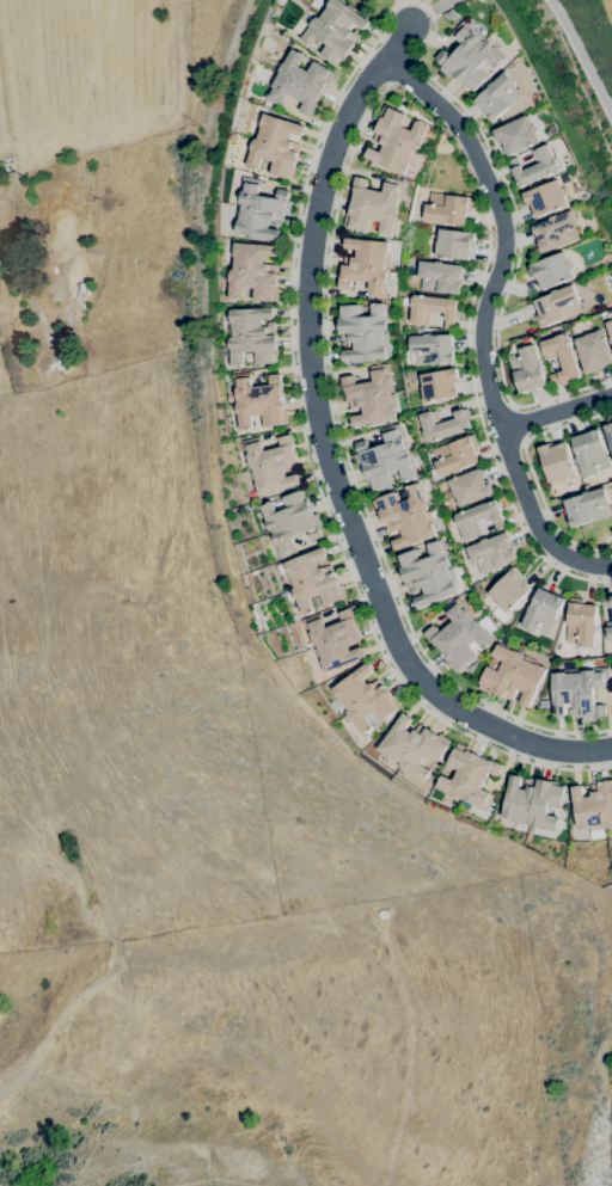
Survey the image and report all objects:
road: (429, 13)
park: (596, 21)
building: (335, 30)
road: (583, 55)
building: (469, 56)
building: (299, 82)
building: (498, 96)
building: (516, 135)
building: (397, 141)
building: (276, 146)
building: (535, 166)
road: (308, 170)
building: (545, 198)
building: (375, 205)
building: (447, 208)
building: (261, 211)
building: (556, 232)
building: (454, 244)
building: (367, 265)
building: (551, 270)
building: (253, 271)
building: (440, 277)
building: (580, 295)
building: (557, 306)
building: (433, 309)
road: (483, 318)
building: (610, 325)
building: (363, 332)
building: (252, 336)
building: (432, 349)
building: (593, 351)
building: (562, 358)
building: (527, 369)
building: (439, 385)
building: (372, 395)
building: (258, 401)
road: (556, 412)
building: (611, 420)
building: (443, 424)
road: (483, 428)
building: (608, 435)
building: (589, 454)
road: (326, 455)
building: (455, 455)
building: (386, 459)
building: (557, 462)
building: (271, 465)
road: (530, 472)
road: (351, 477)
building: (470, 487)
building: (587, 508)
building: (406, 516)
building: (478, 520)
building: (290, 521)
building: (491, 552)
building: (428, 573)
building: (313, 582)
building: (509, 590)
building: (606, 601)
building: (541, 612)
building: (581, 623)
building: (608, 629)
building: (459, 635)
building: (333, 640)
building: (513, 675)
building: (579, 692)
building: (365, 699)
building: (412, 746)
building: (469, 778)
building: (532, 801)
building: (593, 806)

